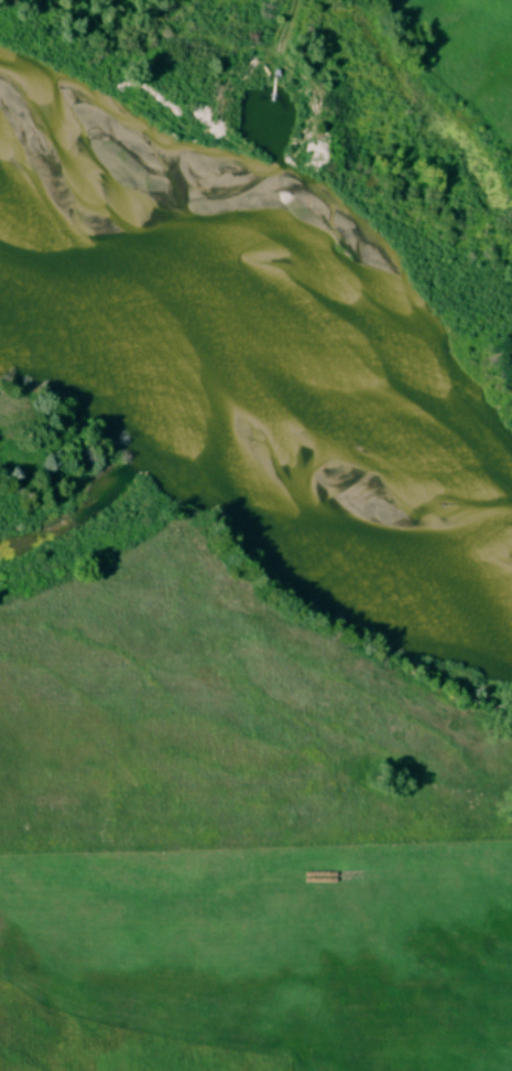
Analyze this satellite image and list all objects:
river: (255, 367)

